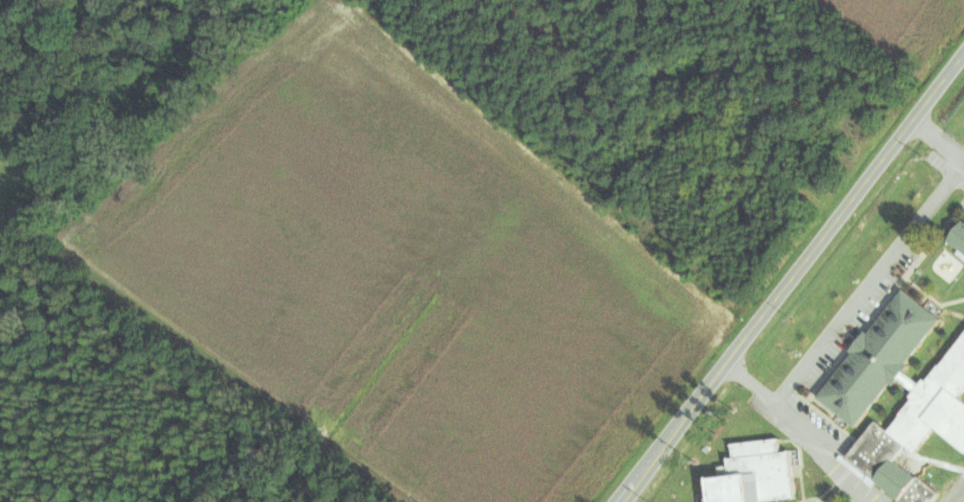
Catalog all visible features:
building: (959, 238)
road: (803, 262)
building: (879, 358)
building: (916, 429)
building: (756, 474)
road: (630, 487)

